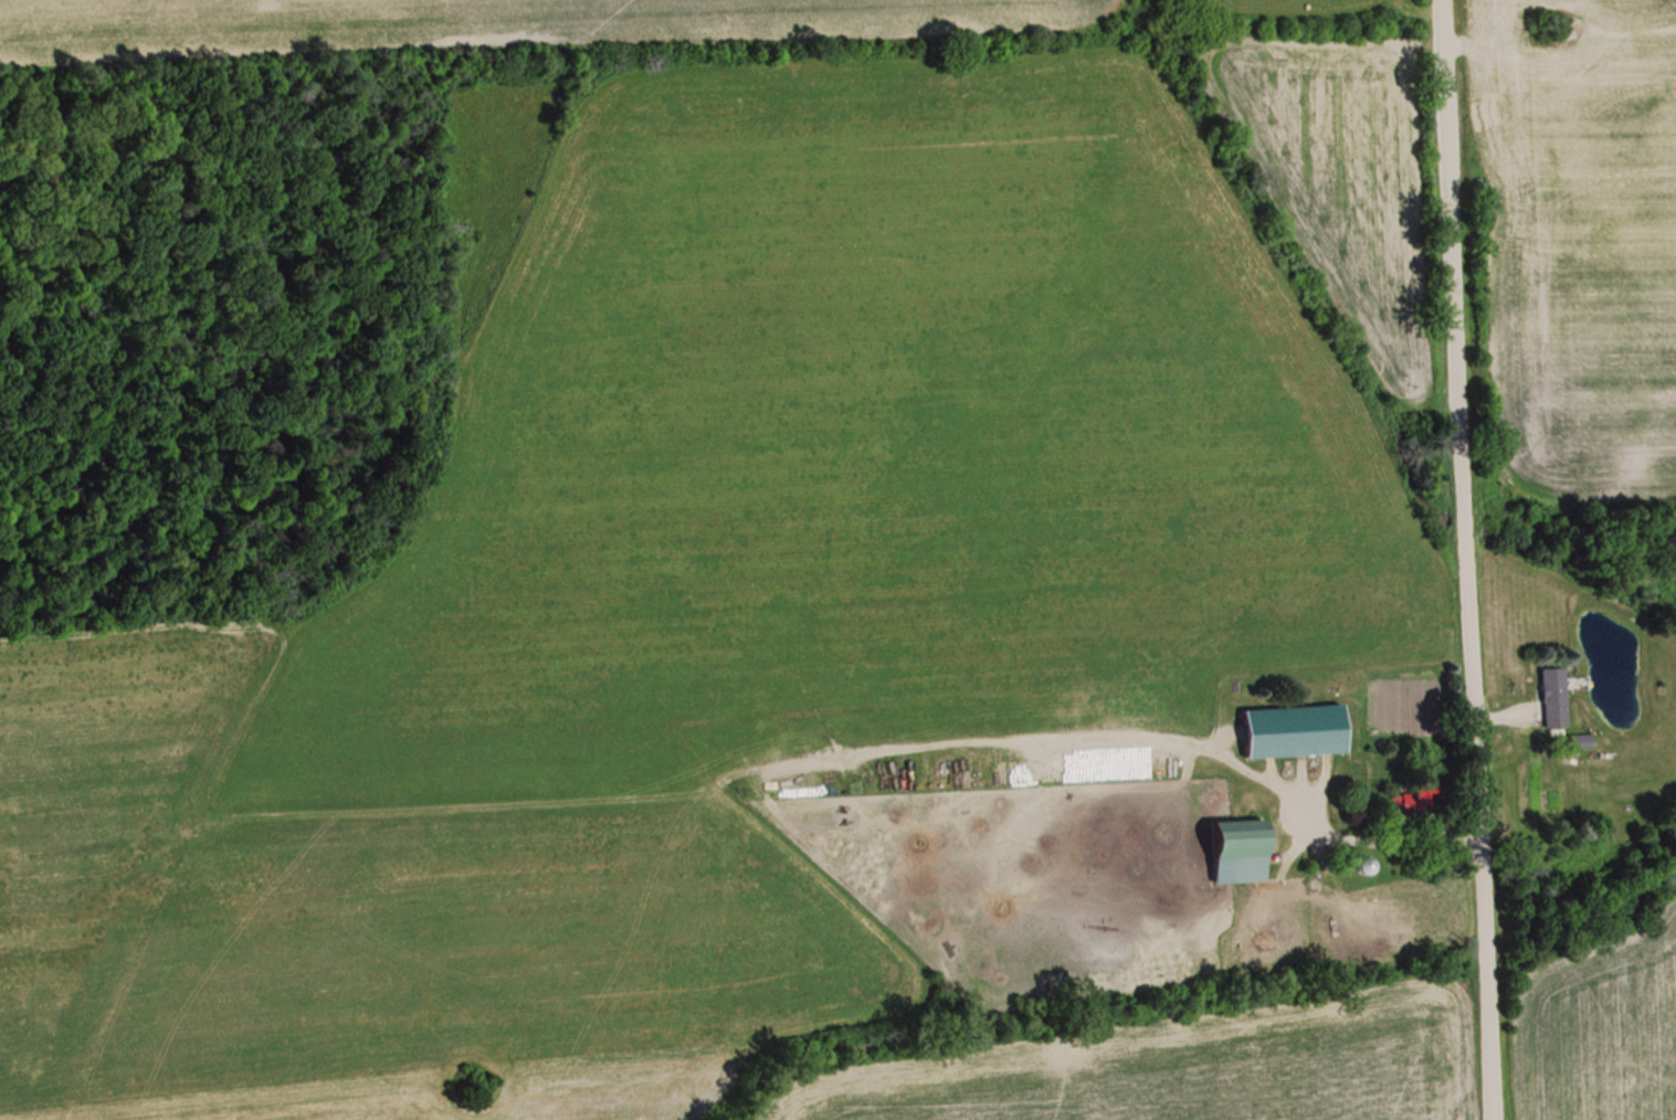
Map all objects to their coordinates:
road: (1463, 560)
building: (1553, 696)
building: (1295, 730)
building: (1415, 799)
building: (1240, 850)

